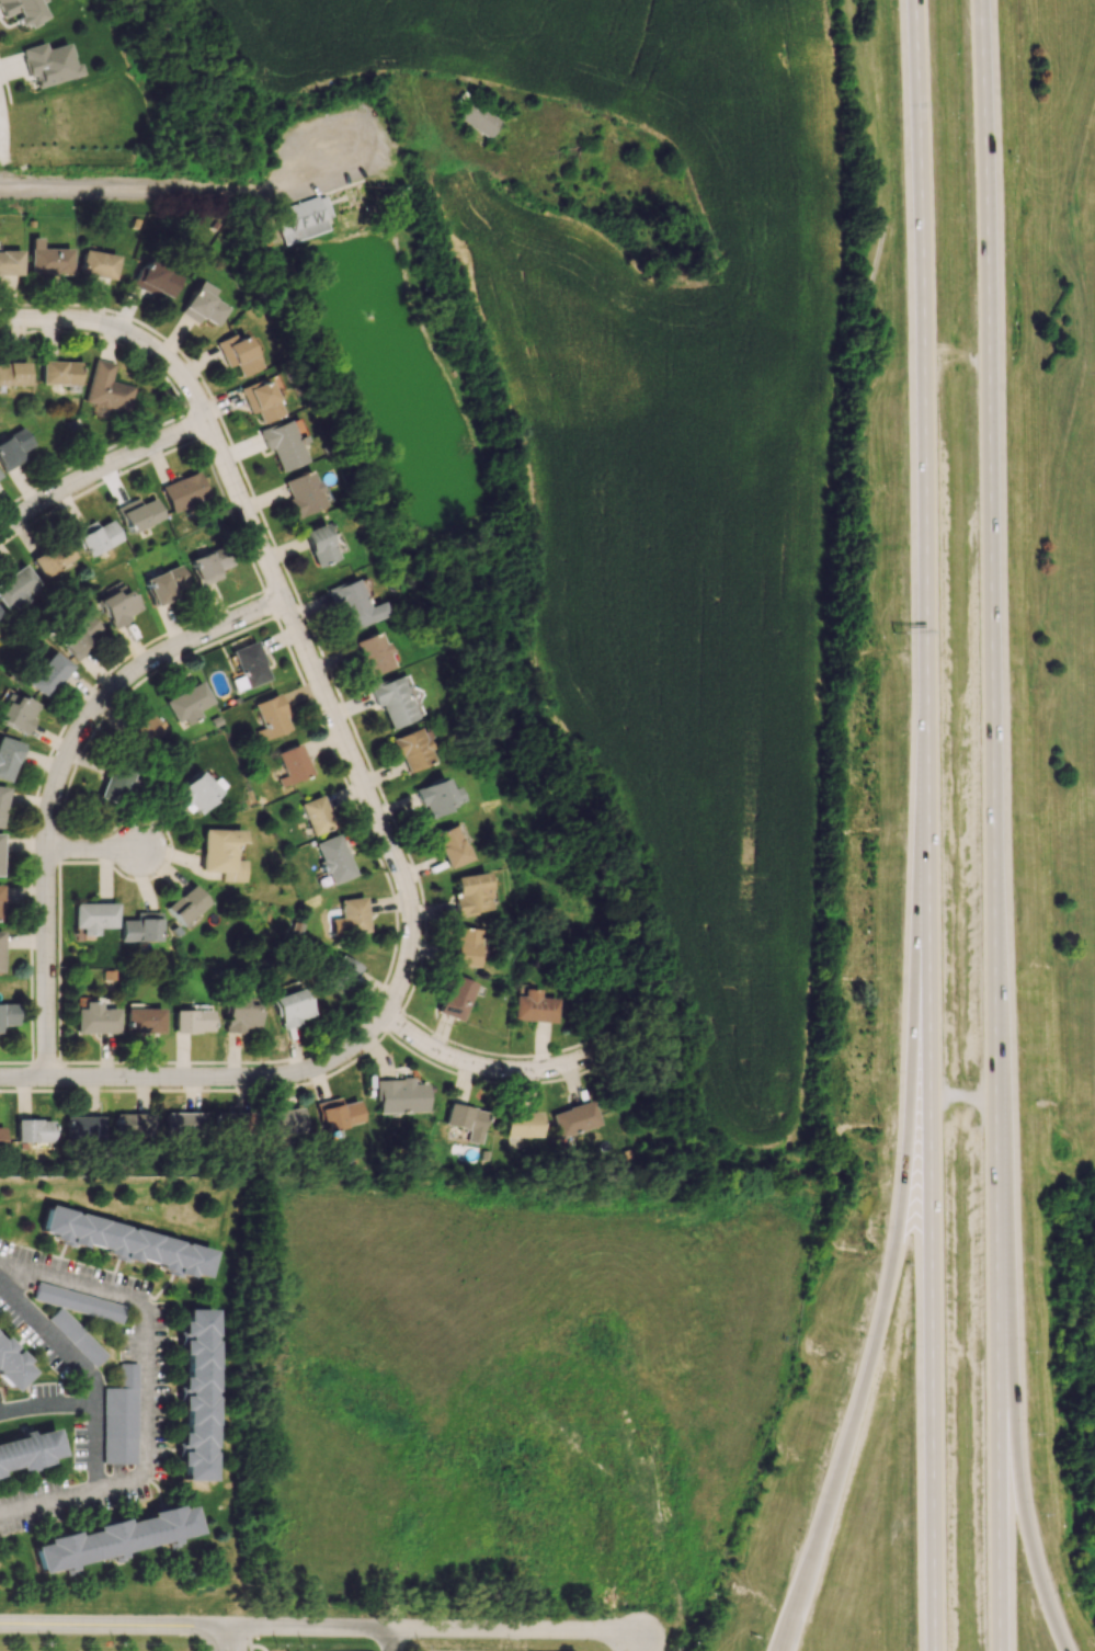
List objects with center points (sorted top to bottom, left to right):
building: (21, 10)
building: (48, 64)
building: (479, 117)
road: (198, 198)
building: (301, 219)
building: (47, 259)
building: (10, 263)
building: (96, 264)
building: (155, 280)
building: (202, 305)
road: (38, 322)
building: (237, 353)
road: (956, 356)
building: (59, 372)
building: (13, 374)
building: (106, 389)
building: (261, 400)
building: (283, 444)
building: (13, 448)
road: (101, 474)
building: (184, 491)
building: (304, 493)
building: (138, 513)
road: (925, 519)
building: (95, 536)
building: (319, 545)
building: (53, 557)
building: (208, 566)
building: (164, 584)
building: (16, 588)
building: (117, 605)
building: (354, 605)
building: (0, 612)
building: (79, 636)
road: (301, 637)
building: (373, 652)
building: (249, 664)
building: (48, 674)
building: (392, 701)
building: (189, 703)
building: (18, 713)
building: (270, 717)
building: (147, 730)
building: (412, 749)
building: (8, 756)
building: (292, 764)
road: (57, 778)
building: (115, 785)
building: (195, 793)
building: (436, 796)
building: (2, 802)
building: (316, 815)
road: (995, 824)
building: (448, 846)
road: (94, 851)
building: (220, 853)
building: (0, 855)
building: (333, 858)
building: (470, 893)
building: (0, 902)
building: (186, 904)
building: (353, 915)
building: (94, 916)
building: (141, 927)
building: (464, 947)
building: (1, 950)
building: (339, 975)
building: (454, 998)
building: (533, 1005)
building: (290, 1007)
building: (7, 1014)
building: (239, 1014)
building: (94, 1017)
building: (142, 1018)
building: (192, 1018)
road: (477, 1067)
road: (203, 1077)
building: (400, 1095)
road: (961, 1100)
building: (338, 1114)
building: (233, 1115)
building: (574, 1118)
building: (182, 1120)
building: (466, 1120)
building: (285, 1121)
building: (522, 1124)
building: (134, 1125)
building: (82, 1127)
building: (33, 1130)
building: (0, 1138)
building: (124, 1241)
building: (77, 1302)
building: (76, 1336)
road: (148, 1342)
road: (933, 1344)
road: (870, 1350)
building: (11, 1367)
building: (194, 1398)
road: (47, 1405)
road: (96, 1416)
building: (119, 1417)
building: (27, 1450)
road: (1018, 1467)
building: (606, 1529)
building: (113, 1538)
building: (637, 1561)
road: (320, 1627)
road: (241, 1637)
road: (202, 1638)
road: (220, 1638)
road: (232, 1638)
road: (399, 1639)
road: (259, 1648)

